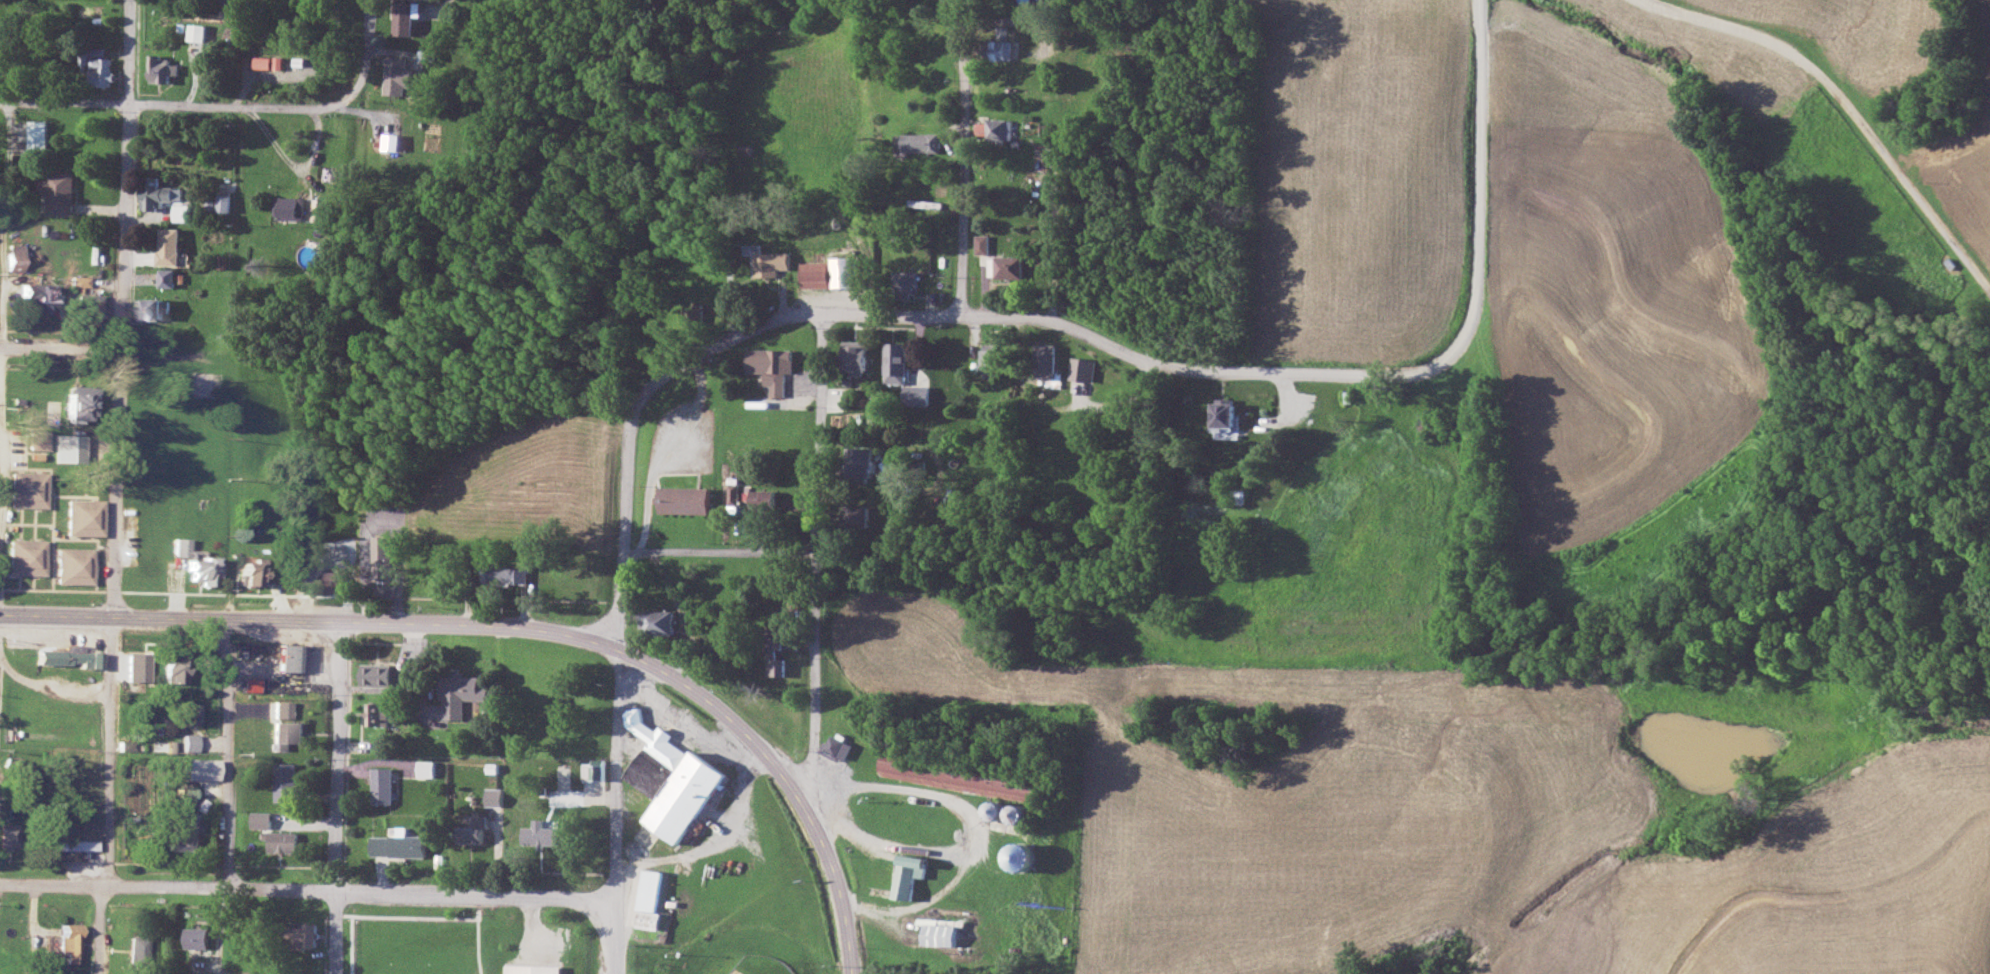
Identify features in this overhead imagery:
building: (228, 1)
building: (408, 15)
building: (197, 31)
building: (1001, 42)
road: (248, 55)
road: (367, 56)
building: (268, 62)
building: (163, 67)
building: (102, 68)
building: (401, 74)
road: (168, 102)
road: (1843, 112)
road: (364, 113)
building: (1001, 130)
building: (37, 136)
building: (391, 140)
building: (919, 141)
road: (963, 156)
road: (1478, 162)
road: (293, 165)
building: (59, 190)
building: (158, 192)
building: (225, 202)
building: (922, 202)
building: (294, 207)
building: (182, 211)
building: (982, 243)
building: (171, 245)
building: (18, 256)
building: (768, 263)
building: (1010, 266)
building: (831, 272)
road: (5, 273)
building: (168, 277)
building: (905, 283)
building: (40, 296)
building: (94, 307)
road: (122, 307)
building: (154, 308)
building: (692, 318)
road: (1096, 340)
road: (60, 342)
building: (856, 357)
building: (991, 360)
building: (1047, 361)
building: (896, 362)
building: (773, 368)
building: (1083, 369)
building: (204, 384)
building: (918, 395)
building: (82, 401)
road: (1288, 405)
road: (1055, 406)
building: (1228, 414)
building: (40, 439)
building: (71, 448)
road: (666, 452)
building: (862, 463)
road: (625, 476)
building: (30, 489)
building: (733, 494)
building: (1237, 495)
building: (765, 499)
building: (686, 500)
building: (86, 516)
building: (858, 516)
road: (720, 548)
road: (819, 554)
building: (29, 556)
building: (199, 563)
building: (382, 564)
building: (76, 565)
road: (3, 566)
building: (254, 570)
building: (151, 574)
building: (506, 574)
road: (426, 622)
building: (660, 623)
building: (778, 655)
building: (73, 657)
building: (296, 657)
building: (177, 666)
building: (138, 667)
building: (377, 675)
road: (393, 681)
road: (50, 687)
building: (461, 695)
building: (284, 709)
building: (376, 715)
building: (288, 734)
building: (191, 741)
building: (838, 747)
road: (110, 750)
road: (227, 751)
building: (16, 766)
building: (430, 769)
building: (963, 777)
building: (673, 779)
building: (286, 783)
building: (382, 786)
road: (333, 796)
building: (493, 797)
road: (623, 811)
building: (1013, 812)
building: (908, 819)
building: (262, 820)
road: (965, 823)
building: (472, 829)
building: (187, 831)
building: (12, 834)
building: (85, 835)
building: (540, 835)
road: (723, 838)
building: (284, 843)
building: (398, 846)
road: (826, 861)
building: (911, 874)
road: (312, 889)
building: (653, 899)
road: (100, 929)
road: (219, 929)
building: (941, 931)
building: (307, 937)
building: (197, 938)
building: (71, 942)
building: (141, 950)
road: (850, 954)
building: (534, 969)

